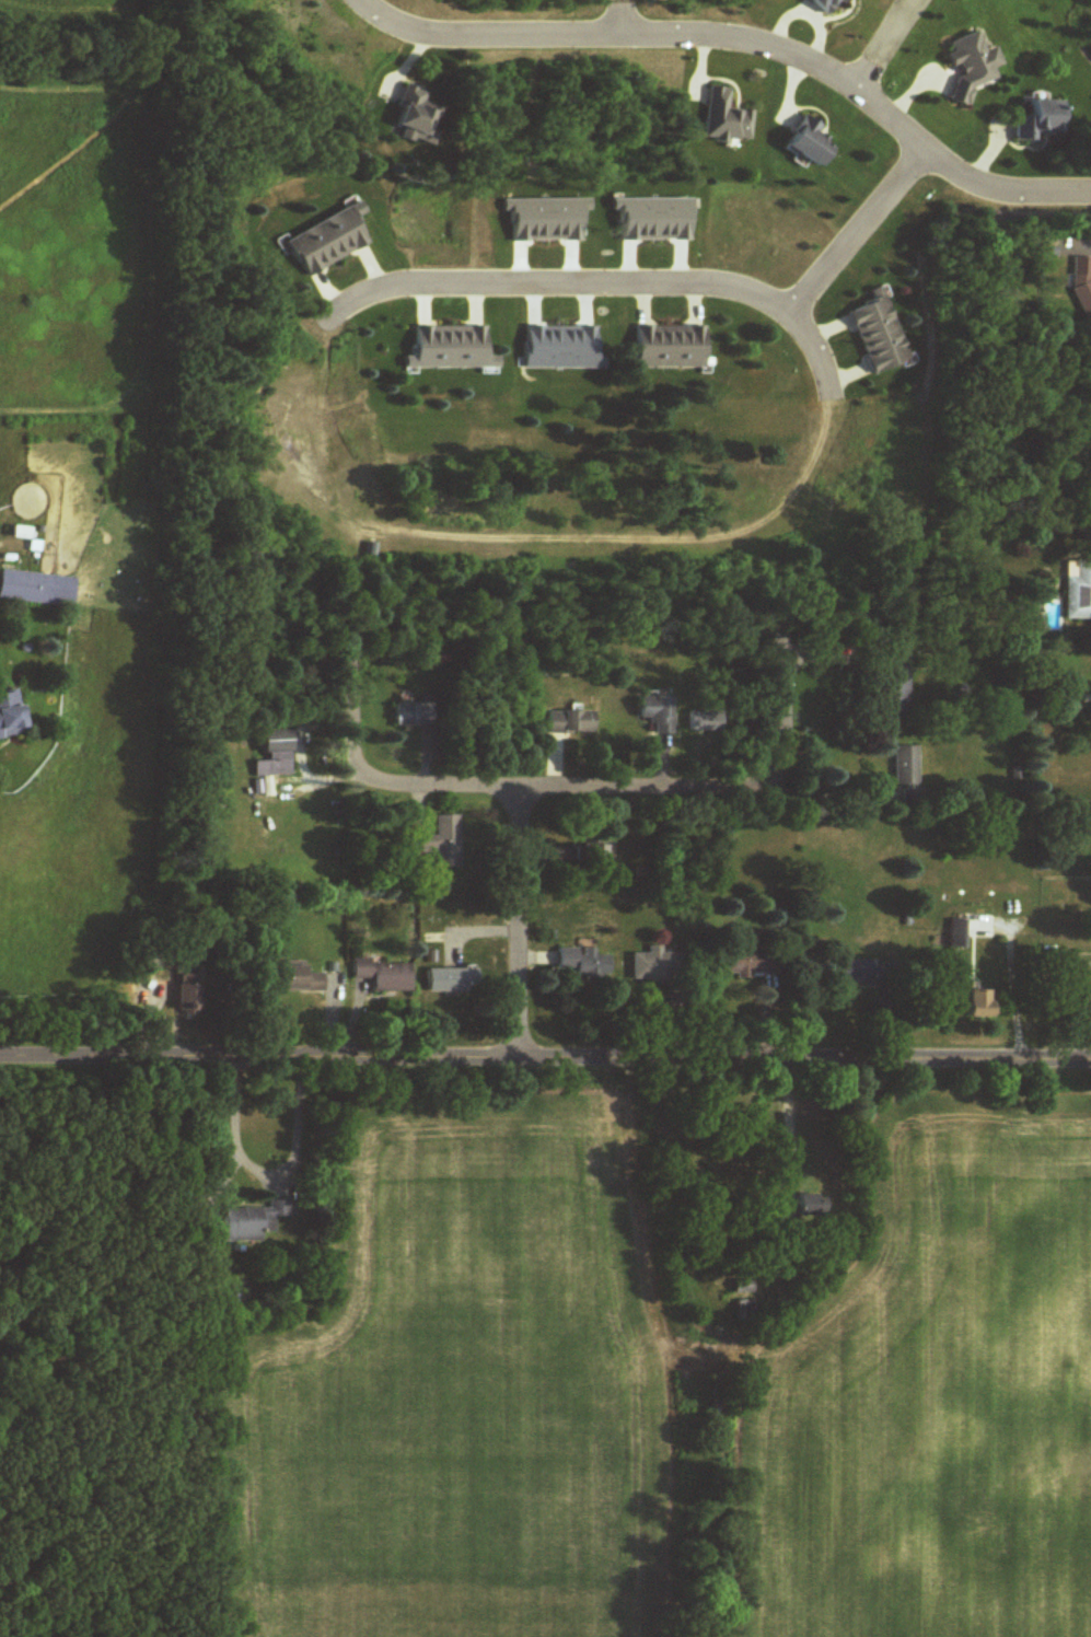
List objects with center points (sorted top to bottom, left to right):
building: (825, 5)
road: (626, 15)
road: (741, 37)
road: (880, 46)
building: (972, 67)
building: (417, 118)
building: (726, 119)
building: (1038, 121)
building: (808, 143)
road: (856, 232)
building: (329, 241)
road: (1090, 244)
road: (603, 286)
building: (880, 335)
building: (670, 348)
building: (454, 349)
building: (36, 589)
building: (1078, 591)
building: (895, 690)
building: (658, 715)
building: (11, 716)
building: (413, 716)
building: (569, 722)
building: (276, 754)
building: (905, 768)
road: (371, 780)
road: (707, 788)
building: (441, 841)
building: (594, 850)
road: (515, 924)
building: (959, 933)
building: (751, 960)
building: (583, 962)
building: (655, 965)
building: (862, 971)
road: (1015, 973)
building: (383, 974)
building: (293, 978)
building: (450, 979)
building: (187, 995)
building: (1089, 1001)
building: (982, 1002)
road: (545, 1059)
road: (265, 1170)
building: (813, 1205)
building: (253, 1221)
building: (208, 1243)
building: (743, 1287)
building: (744, 1311)
crop: (459, 1390)
crop: (931, 1391)

